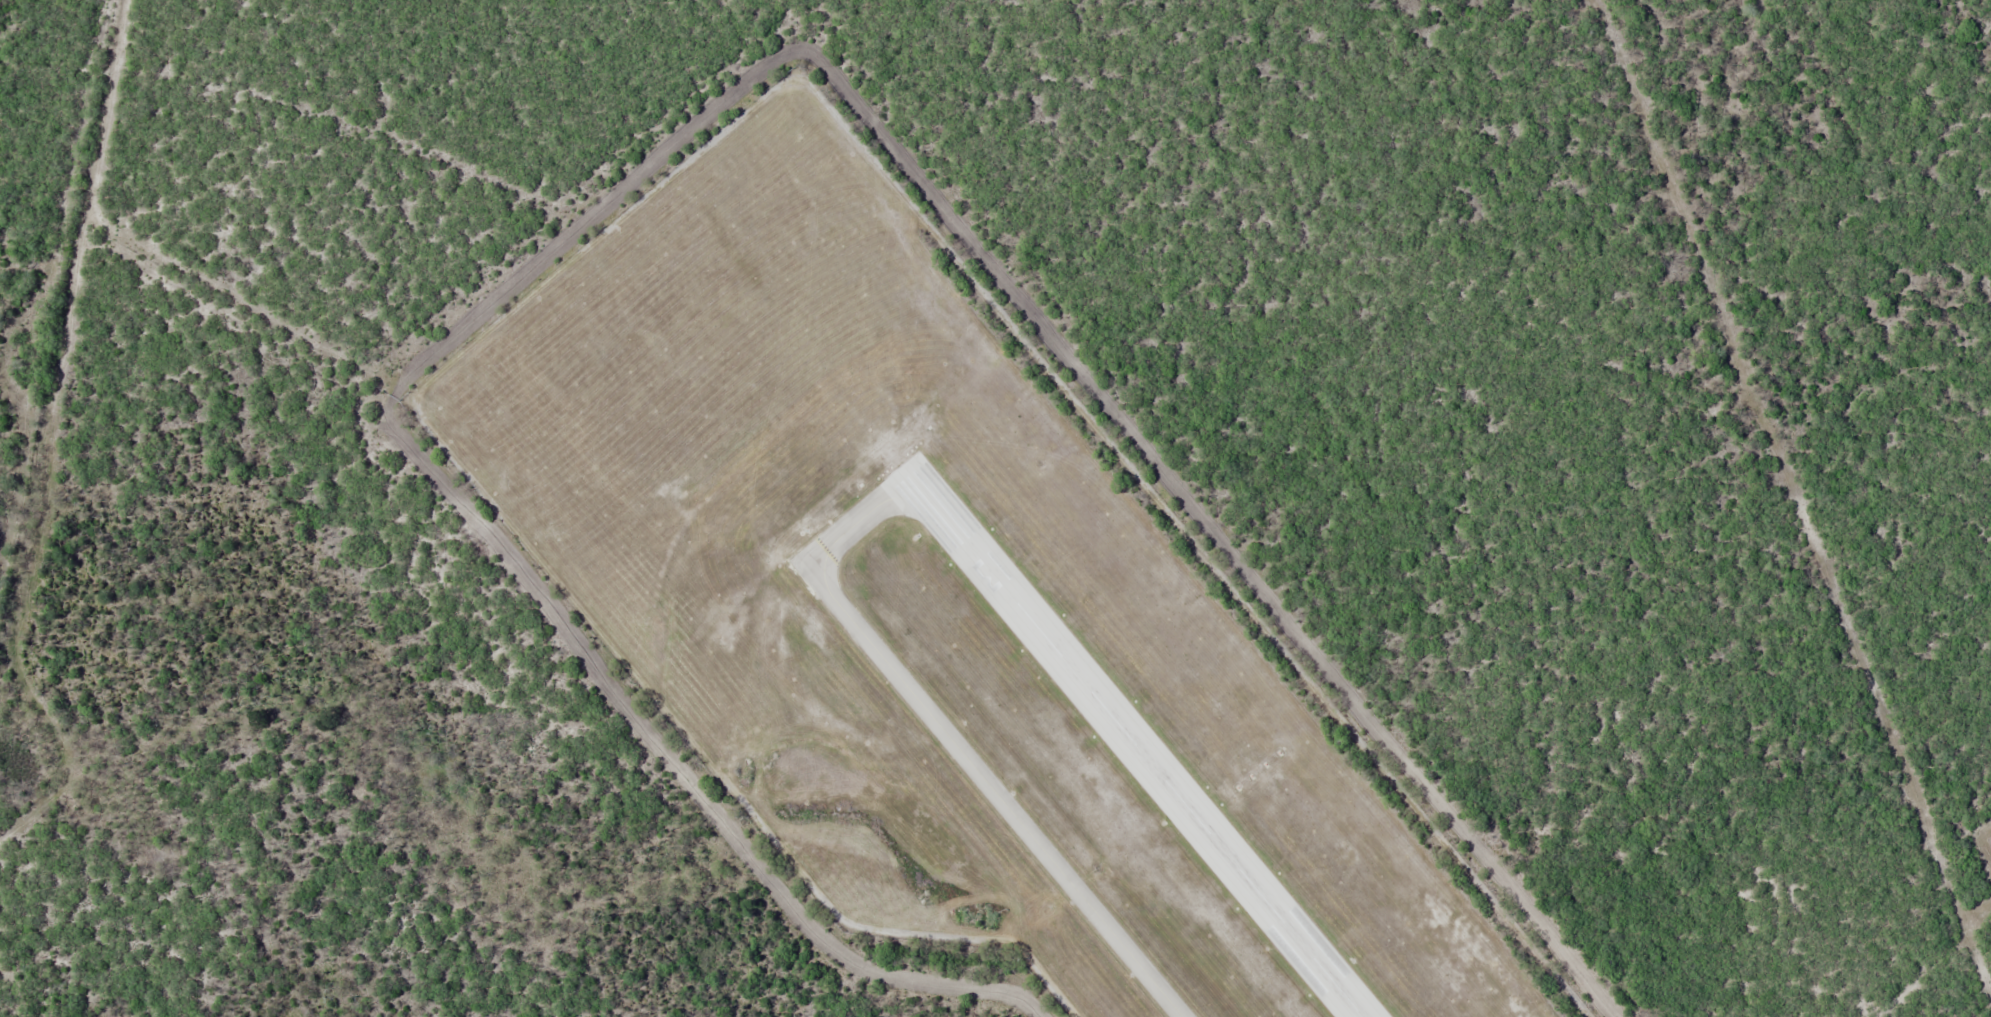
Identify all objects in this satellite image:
road: (67, 396)
airport taxiway: (950, 738)
airport runway: (1137, 745)
airport runway: (1146, 745)

